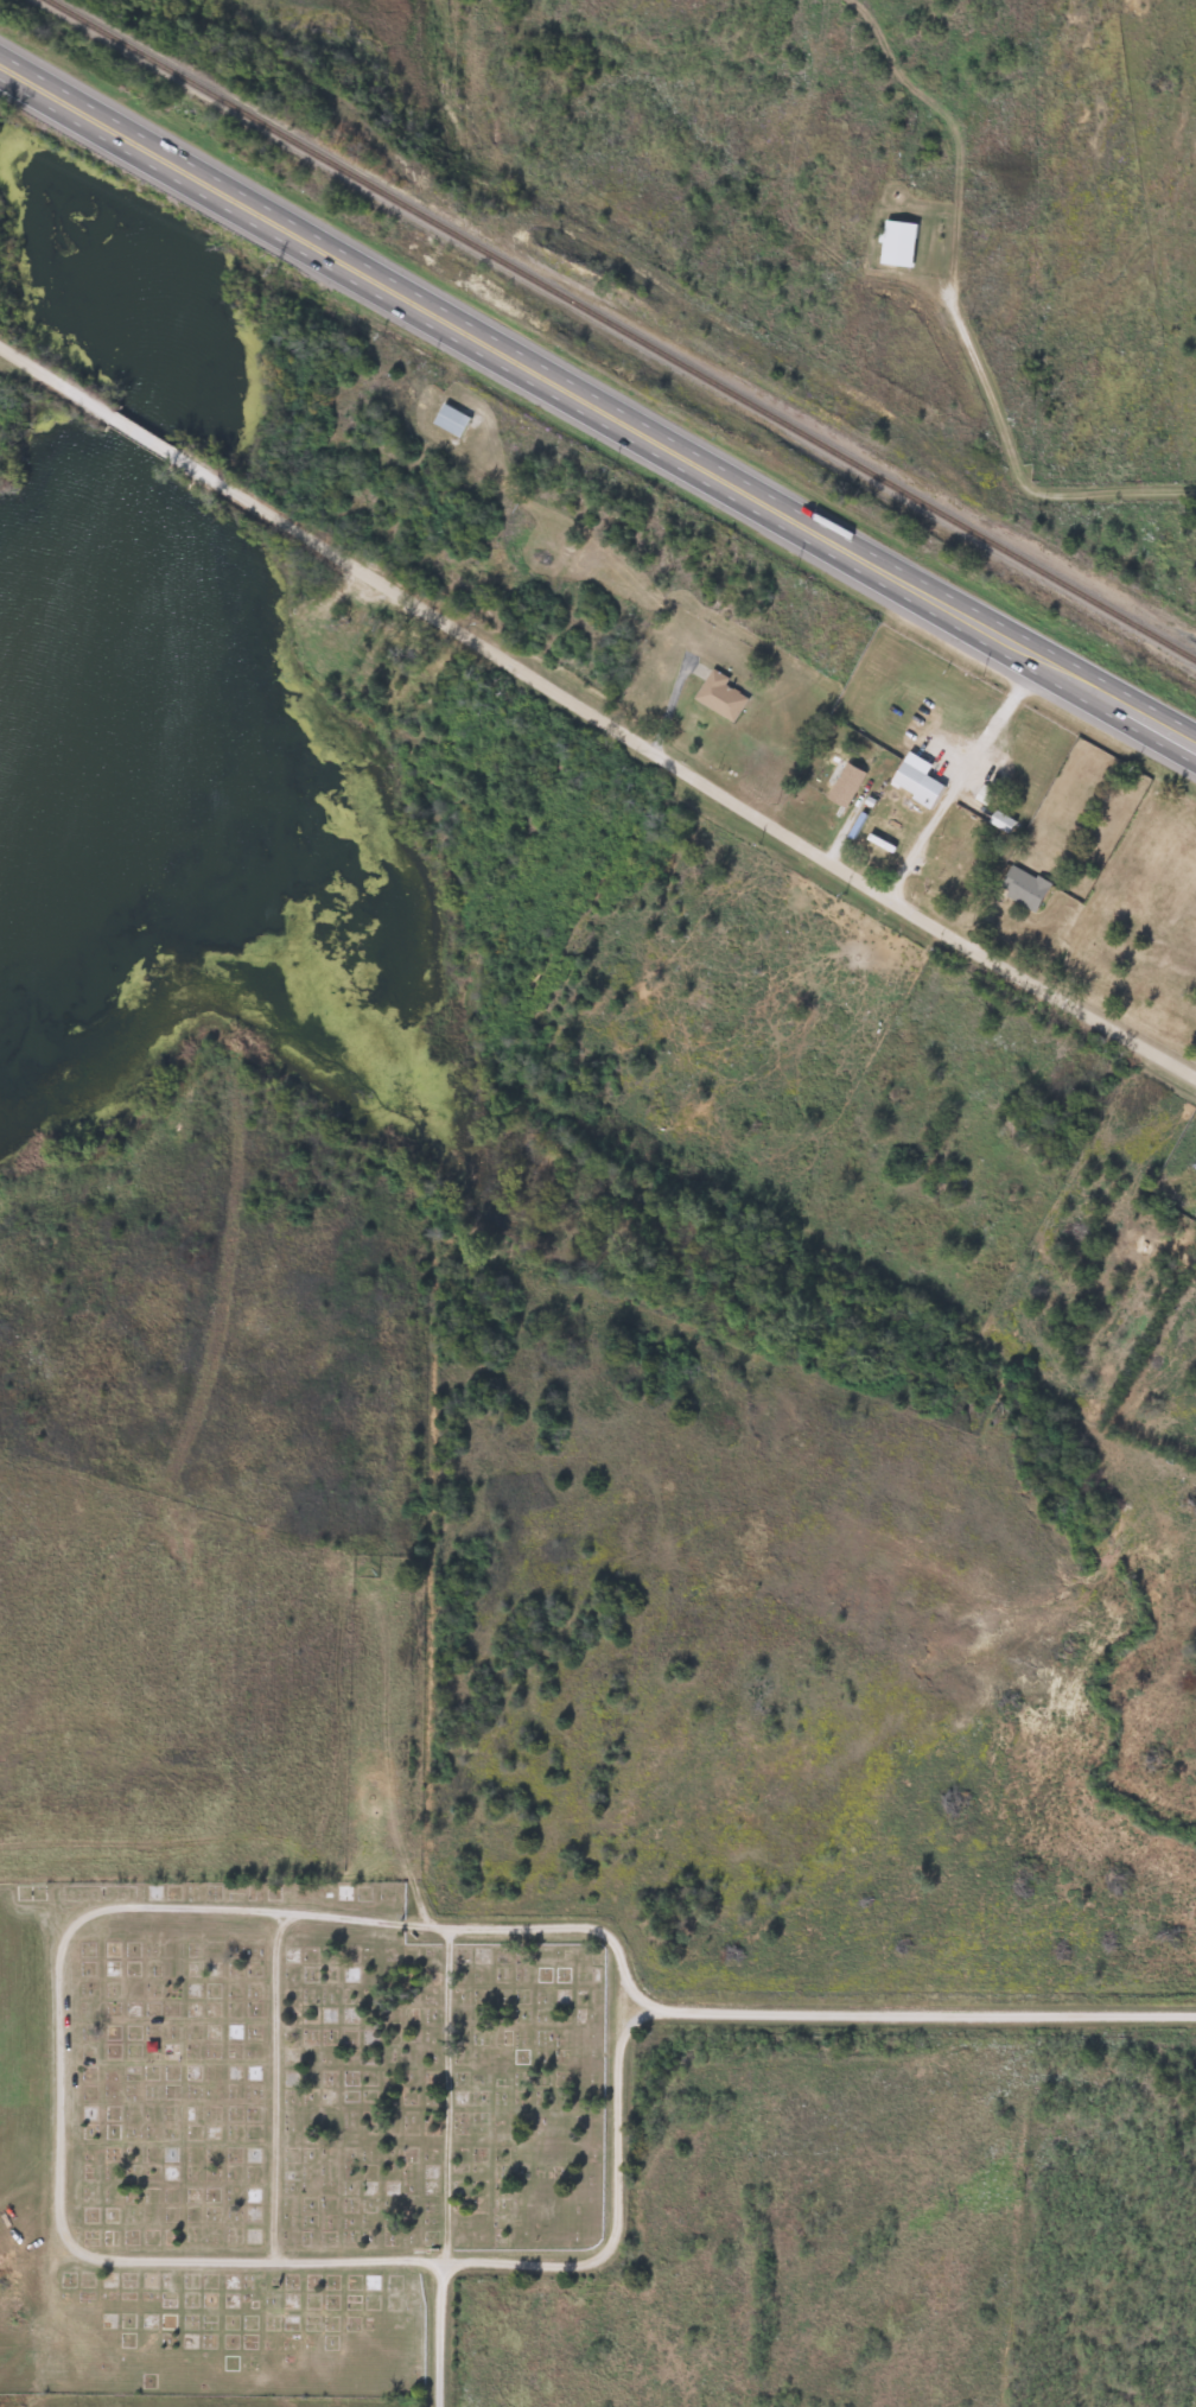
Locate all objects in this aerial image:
building: (896, 244)
railway: (622, 330)
road: (519, 364)
building: (448, 419)
road: (1011, 456)
road: (297, 531)
building: (719, 696)
road: (1117, 705)
building: (906, 777)
building: (844, 785)
building: (944, 872)
building: (1022, 888)
road: (890, 902)
road: (426, 1577)
road: (911, 2012)
road: (273, 2088)
road: (439, 2095)
park: (300, 2122)
road: (244, 2260)
road: (444, 2333)

